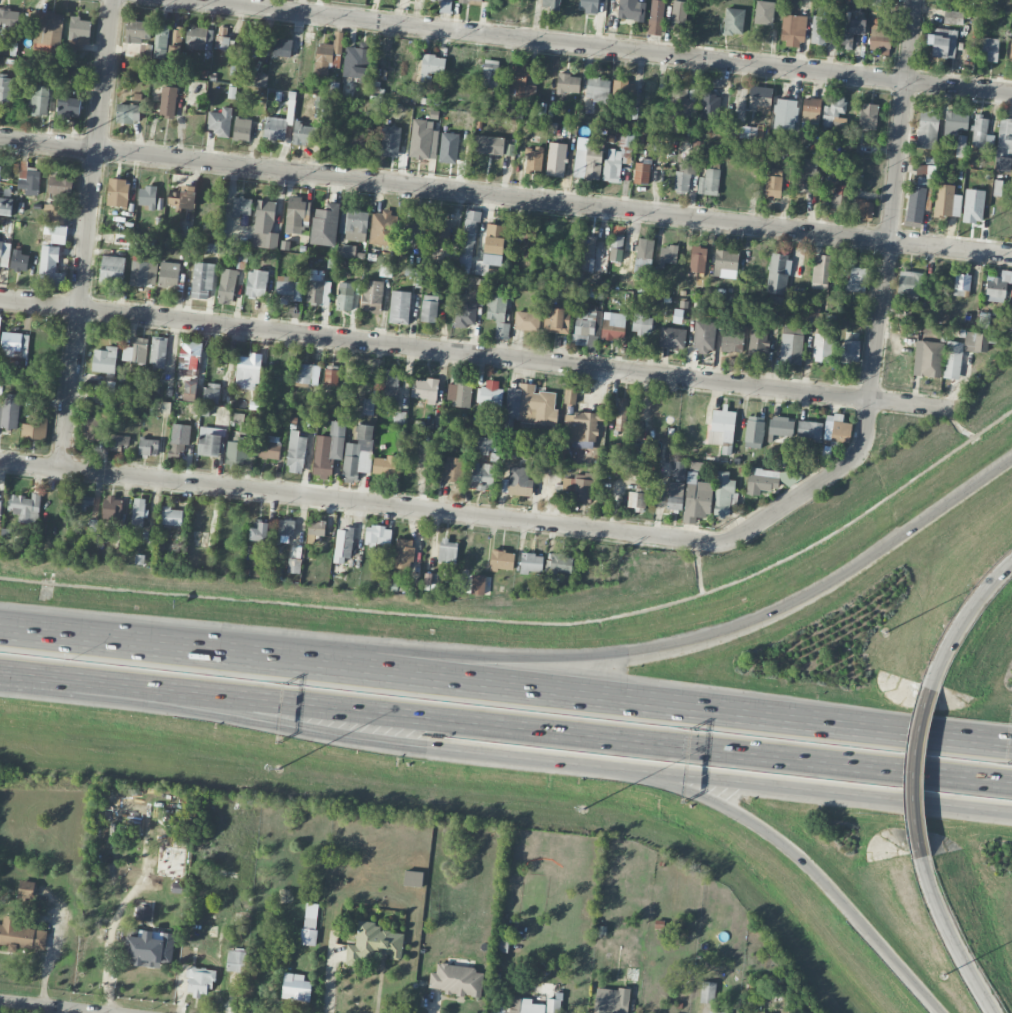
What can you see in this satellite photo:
building: (445, 0)
building: (471, 1)
building: (551, 4)
building: (589, 5)
building: (631, 10)
building: (764, 12)
building: (678, 14)
building: (656, 17)
building: (953, 17)
building: (733, 21)
building: (9, 22)
building: (46, 26)
building: (79, 29)
building: (792, 29)
building: (819, 30)
building: (138, 31)
building: (850, 31)
building: (199, 38)
building: (879, 40)
building: (222, 42)
building: (944, 42)
building: (161, 44)
building: (254, 44)
road: (610, 46)
building: (282, 47)
building: (988, 48)
building: (146, 50)
building: (1011, 50)
building: (329, 54)
building: (356, 61)
building: (431, 66)
building: (490, 73)
building: (261, 80)
building: (522, 82)
building: (568, 83)
building: (597, 88)
building: (5, 89)
building: (623, 90)
building: (760, 98)
building: (40, 100)
building: (168, 102)
building: (678, 102)
building: (69, 107)
building: (811, 109)
building: (833, 110)
building: (128, 112)
building: (785, 113)
building: (868, 116)
building: (219, 121)
building: (957, 127)
building: (275, 128)
building: (242, 129)
building: (927, 129)
building: (981, 132)
power tower: (83, 133)
building: (304, 133)
building: (1004, 134)
building: (423, 139)
building: (626, 139)
building: (491, 145)
building: (556, 158)
building: (533, 159)
power tower: (318, 160)
building: (587, 163)
building: (1002, 163)
building: (612, 165)
building: (0, 167)
building: (922, 170)
building: (641, 172)
building: (806, 173)
building: (684, 174)
building: (29, 179)
building: (709, 182)
building: (774, 183)
building: (60, 185)
power tower: (542, 187)
building: (118, 192)
building: (148, 196)
road: (505, 196)
building: (183, 197)
building: (837, 197)
building: (944, 200)
building: (915, 203)
building: (973, 205)
building: (242, 206)
building: (862, 208)
building: (54, 213)
building: (296, 213)
power tower: (791, 215)
building: (265, 224)
building: (325, 224)
building: (354, 224)
building: (383, 228)
building: (417, 230)
building: (56, 232)
building: (527, 233)
building: (441, 235)
power tower: (958, 235)
building: (494, 238)
building: (616, 248)
building: (346, 251)
building: (587, 253)
building: (4, 254)
building: (668, 254)
building: (643, 255)
building: (698, 258)
building: (19, 260)
building: (725, 261)
building: (487, 262)
building: (51, 266)
building: (111, 269)
building: (821, 269)
building: (142, 270)
road: (82, 274)
building: (168, 274)
building: (778, 274)
building: (202, 280)
building: (855, 280)
building: (256, 283)
building: (909, 283)
building: (962, 284)
building: (227, 286)
building: (997, 286)
building: (318, 288)
building: (288, 289)
building: (345, 296)
building: (372, 296)
building: (1010, 301)
road: (880, 305)
building: (400, 307)
building: (429, 308)
building: (466, 314)
building: (498, 314)
building: (814, 316)
building: (527, 320)
building: (556, 320)
building: (641, 323)
building: (587, 326)
building: (613, 326)
building: (704, 336)
building: (672, 337)
building: (758, 341)
building: (15, 344)
building: (791, 345)
building: (822, 347)
building: (135, 350)
building: (850, 351)
building: (158, 352)
road: (478, 354)
building: (189, 357)
building: (927, 358)
building: (104, 360)
building: (952, 364)
building: (247, 372)
building: (307, 373)
building: (331, 375)
building: (390, 384)
building: (425, 389)
building: (191, 390)
building: (211, 393)
building: (570, 393)
building: (459, 394)
building: (490, 396)
building: (530, 405)
building: (368, 406)
building: (9, 411)
building: (621, 414)
building: (399, 417)
road: (74, 418)
building: (95, 426)
building: (781, 426)
building: (35, 427)
building: (581, 428)
building: (836, 428)
building: (722, 429)
building: (809, 429)
building: (364, 431)
building: (754, 431)
building: (210, 441)
building: (119, 442)
building: (148, 446)
building: (268, 447)
building: (175, 449)
building: (328, 449)
building: (239, 451)
building: (518, 451)
building: (296, 452)
building: (353, 462)
building: (386, 465)
building: (452, 468)
building: (678, 469)
building: (481, 476)
building: (770, 480)
building: (519, 481)
building: (581, 486)
building: (723, 494)
building: (675, 495)
building: (696, 498)
building: (85, 500)
building: (636, 500)
road: (363, 502)
building: (0, 503)
building: (24, 507)
building: (112, 509)
building: (138, 512)
building: (172, 516)
building: (316, 528)
building: (284, 530)
building: (259, 532)
building: (378, 535)
building: (343, 544)
building: (448, 551)
building: (403, 553)
building: (294, 559)
building: (501, 560)
building: (531, 562)
building: (559, 563)
building: (478, 584)
road: (965, 618)
road: (40, 637)
road: (571, 655)
road: (488, 685)
road: (505, 728)
road: (326, 733)
road: (919, 735)
road: (978, 742)
road: (917, 773)
road: (833, 795)
road: (813, 871)
building: (413, 878)
building: (26, 886)
building: (143, 913)
building: (308, 931)
building: (20, 934)
road: (952, 940)
building: (373, 943)
building: (150, 948)
building: (236, 960)
building: (456, 979)
building: (200, 980)
road: (330, 981)
building: (296, 987)
building: (707, 992)
building: (611, 1000)
building: (553, 1005)
building: (525, 1006)
road: (52, 1007)
building: (715, 1012)
building: (758, 1012)

